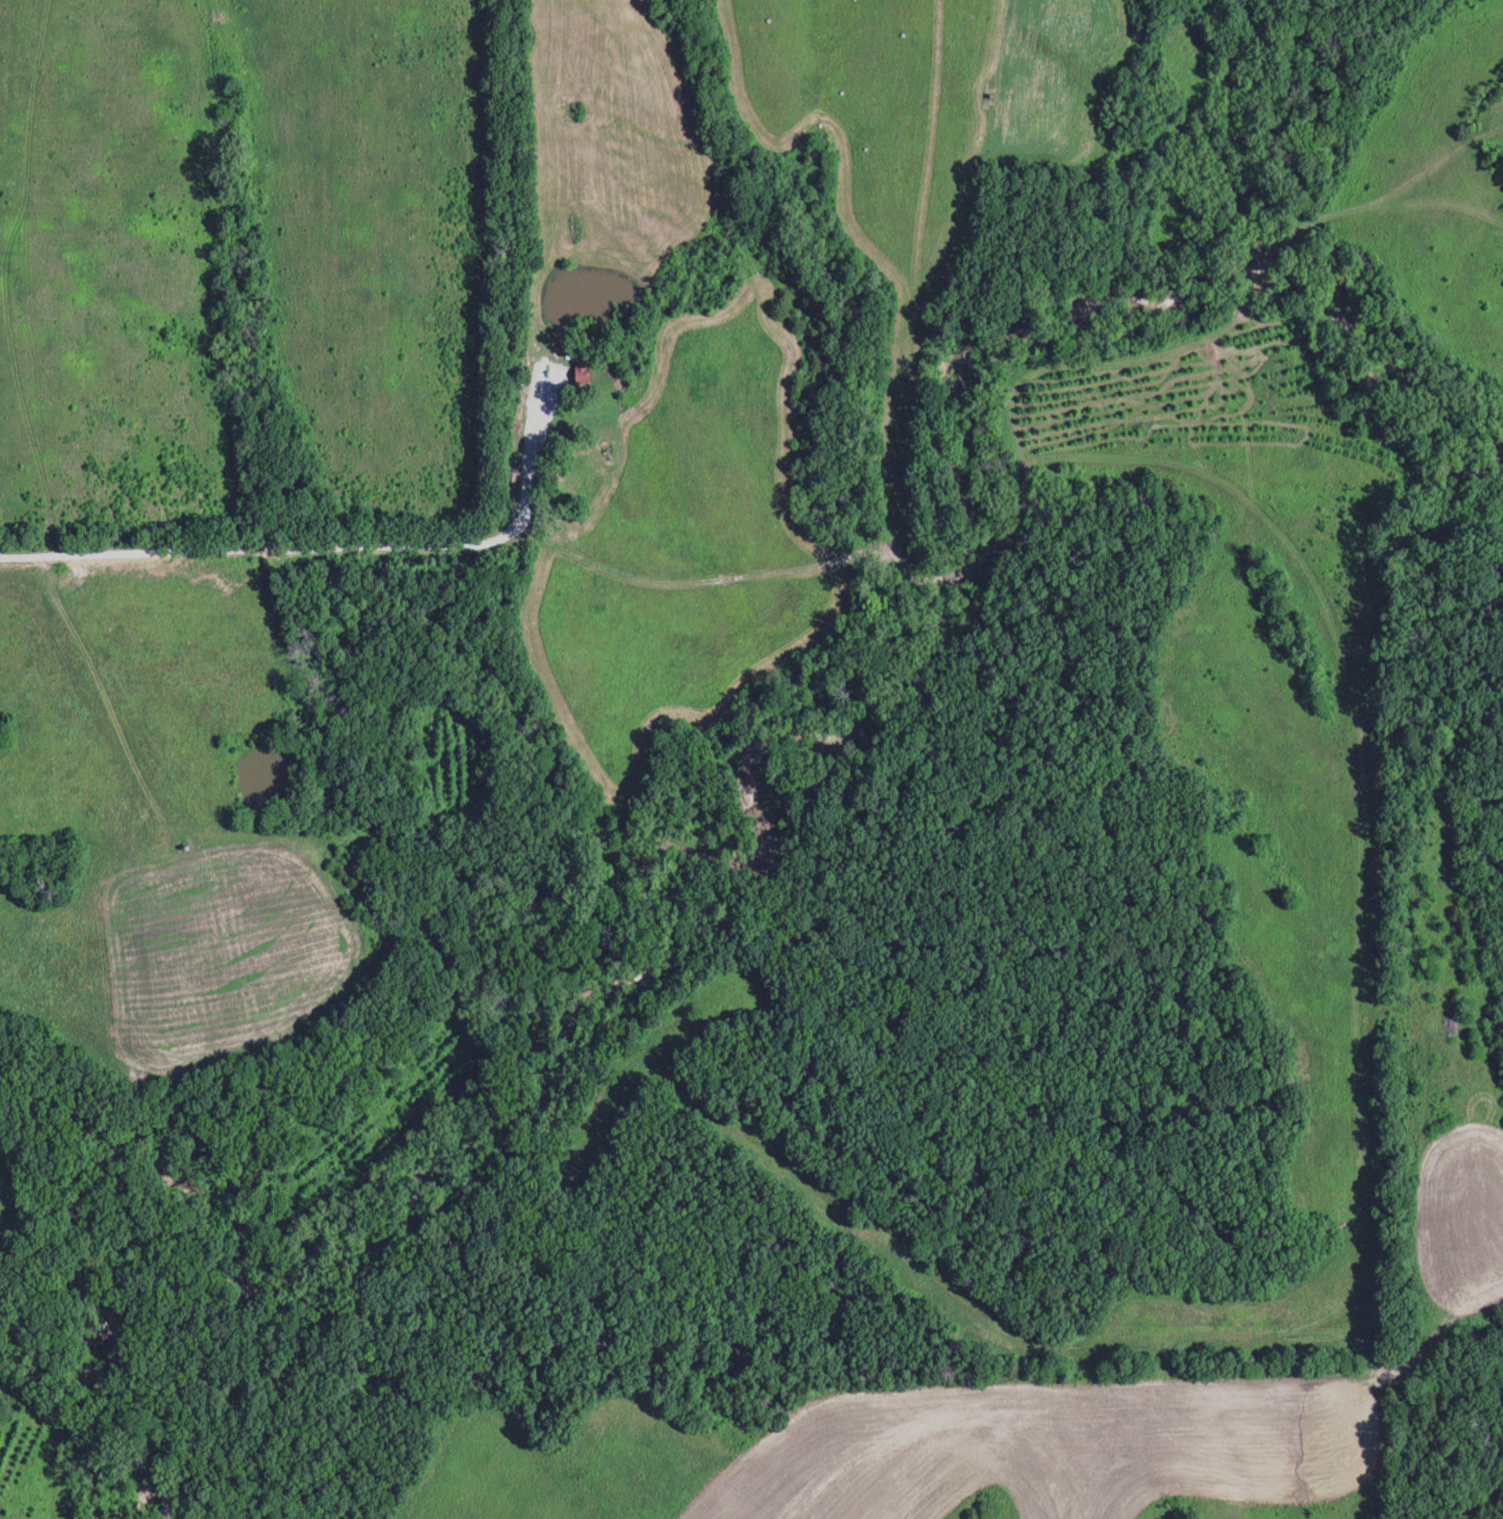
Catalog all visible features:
road: (264, 549)

